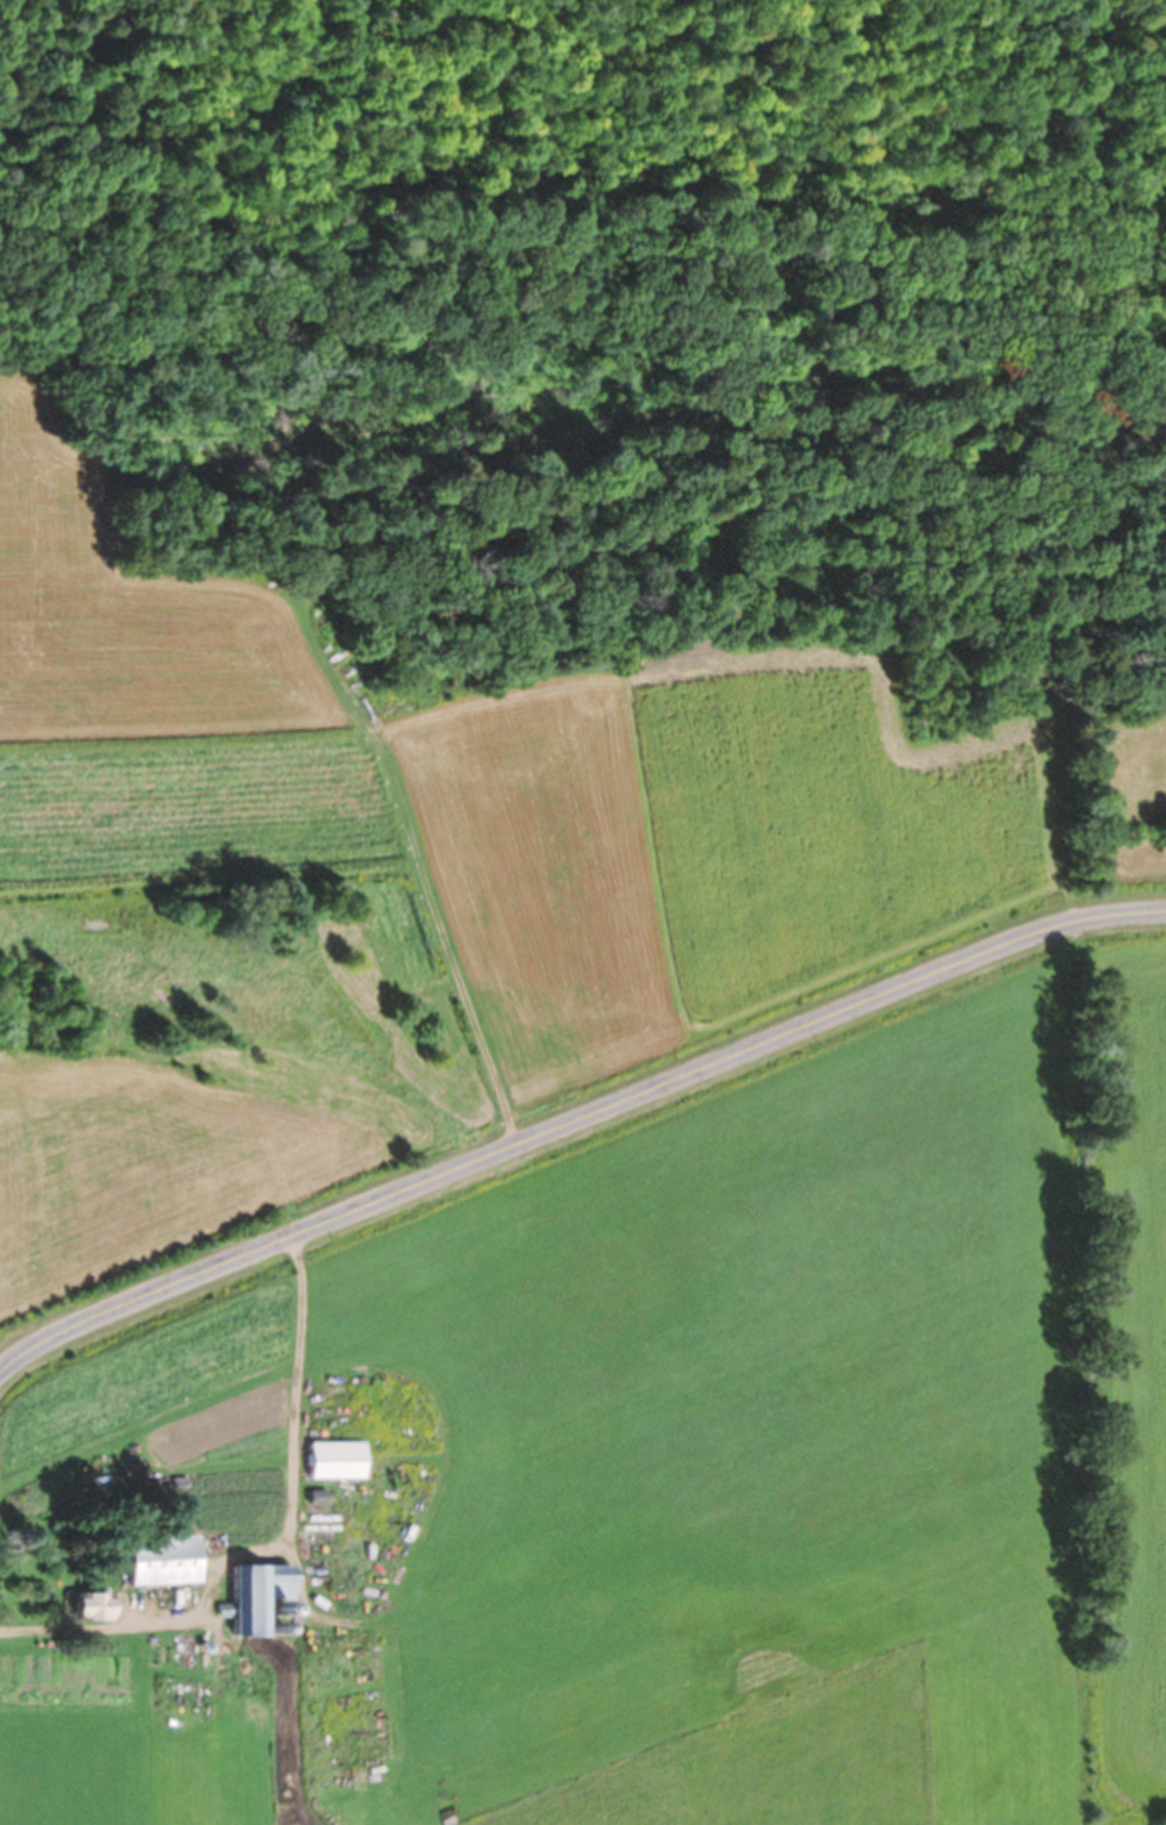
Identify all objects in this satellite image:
road: (576, 1114)
building: (340, 1459)
building: (330, 1518)
building: (168, 1559)
building: (263, 1594)
building: (98, 1606)

